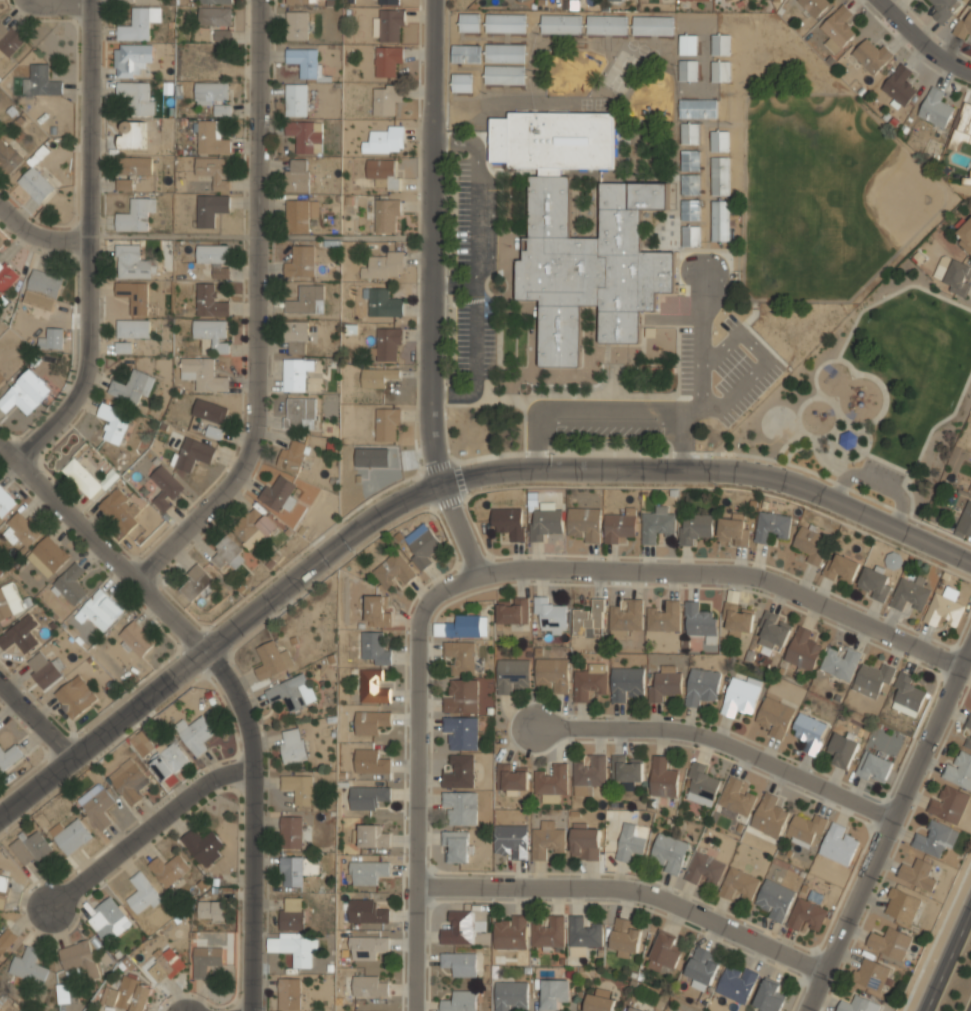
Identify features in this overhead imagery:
building: (126, 0)
building: (684, 0)
building: (728, 0)
building: (301, 1)
building: (215, 2)
building: (391, 2)
building: (517, 2)
building: (813, 6)
building: (945, 8)
building: (215, 16)
building: (470, 21)
building: (505, 22)
building: (561, 23)
building: (965, 23)
building: (607, 24)
building: (139, 25)
building: (297, 25)
building: (390, 25)
building: (653, 25)
building: (838, 29)
building: (223, 35)
building: (8, 39)
road: (921, 40)
building: (687, 43)
building: (720, 43)
building: (505, 52)
building: (466, 53)
building: (871, 55)
building: (387, 59)
building: (131, 60)
building: (303, 61)
building: (688, 69)
building: (720, 70)
building: (505, 74)
building: (43, 80)
building: (462, 82)
building: (900, 85)
building: (211, 92)
building: (136, 96)
building: (386, 98)
building: (297, 99)
building: (935, 107)
building: (698, 108)
building: (962, 126)
building: (689, 132)
building: (303, 135)
building: (210, 138)
building: (385, 139)
building: (719, 140)
building: (8, 156)
building: (689, 159)
building: (135, 166)
building: (214, 172)
building: (384, 172)
building: (297, 175)
building: (720, 175)
building: (968, 176)
building: (690, 183)
building: (36, 184)
building: (124, 185)
building: (211, 209)
building: (690, 209)
building: (300, 213)
building: (387, 215)
building: (135, 216)
building: (721, 220)
road: (40, 225)
building: (691, 235)
building: (964, 235)
road: (172, 236)
road: (91, 238)
building: (581, 244)
building: (214, 258)
building: (301, 261)
building: (132, 263)
building: (384, 265)
building: (956, 275)
building: (6, 276)
building: (43, 289)
road: (432, 290)
building: (134, 295)
building: (210, 300)
building: (307, 300)
building: (382, 303)
road: (253, 305)
building: (133, 328)
building: (212, 333)
building: (296, 337)
building: (52, 338)
building: (388, 344)
building: (123, 346)
building: (203, 374)
building: (301, 375)
building: (378, 376)
building: (2, 379)
building: (132, 385)
building: (26, 392)
building: (210, 411)
building: (300, 412)
building: (113, 422)
building: (387, 424)
building: (215, 432)
building: (849, 439)
building: (192, 454)
building: (292, 455)
building: (82, 478)
road: (438, 478)
building: (165, 487)
building: (969, 489)
building: (277, 493)
building: (6, 503)
building: (121, 510)
building: (965, 520)
building: (508, 523)
building: (544, 523)
building: (584, 523)
building: (254, 524)
building: (620, 525)
building: (657, 526)
building: (771, 527)
building: (694, 528)
building: (24, 529)
building: (735, 529)
building: (421, 544)
building: (811, 545)
building: (227, 552)
building: (50, 554)
building: (842, 569)
building: (393, 570)
road: (729, 574)
building: (195, 582)
building: (875, 583)
building: (70, 584)
building: (909, 595)
building: (9, 601)
building: (944, 608)
building: (99, 609)
building: (377, 611)
building: (512, 613)
building: (550, 615)
building: (664, 617)
building: (626, 618)
building: (737, 618)
building: (589, 619)
building: (700, 622)
building: (463, 627)
building: (439, 629)
building: (774, 630)
building: (20, 635)
building: (136, 638)
building: (374, 648)
building: (803, 649)
building: (462, 658)
building: (272, 659)
building: (841, 662)
building: (43, 669)
building: (552, 674)
road: (227, 676)
building: (513, 677)
building: (873, 679)
building: (664, 682)
building: (588, 684)
building: (627, 684)
building: (702, 685)
building: (373, 688)
building: (292, 692)
building: (740, 694)
building: (907, 694)
building: (75, 695)
building: (461, 697)
building: (775, 715)
road: (36, 716)
building: (371, 722)
building: (969, 724)
building: (808, 732)
building: (461, 734)
building: (195, 735)
building: (884, 741)
building: (142, 743)
road: (724, 743)
building: (969, 743)
building: (293, 744)
building: (843, 747)
building: (8, 756)
building: (370, 761)
building: (169, 762)
building: (874, 765)
building: (960, 769)
building: (628, 770)
building: (460, 773)
building: (590, 773)
road: (418, 776)
building: (663, 776)
building: (511, 780)
building: (128, 782)
building: (551, 782)
building: (700, 784)
building: (300, 789)
building: (368, 796)
building: (736, 796)
building: (949, 803)
building: (98, 806)
building: (461, 809)
building: (769, 815)
road: (149, 826)
building: (806, 827)
road: (887, 828)
building: (291, 832)
building: (70, 836)
building: (372, 836)
building: (935, 838)
building: (510, 842)
building: (547, 842)
building: (631, 842)
building: (585, 844)
building: (838, 844)
building: (202, 845)
building: (456, 846)
building: (31, 848)
building: (668, 853)
building: (704, 868)
building: (170, 869)
building: (296, 870)
building: (367, 871)
building: (1, 872)
building: (917, 873)
building: (739, 884)
road: (629, 887)
building: (4, 894)
building: (142, 894)
building: (774, 900)
building: (902, 904)
building: (211, 910)
building: (366, 910)
building: (291, 914)
building: (806, 914)
building: (108, 921)
building: (459, 928)
building: (548, 933)
building: (583, 933)
building: (510, 934)
road: (936, 934)
building: (626, 937)
building: (7, 941)
building: (889, 941)
building: (367, 946)
building: (295, 947)
building: (665, 951)
road: (947, 959)
building: (79, 960)
building: (206, 960)
building: (165, 964)
building: (460, 965)
building: (702, 966)
building: (28, 967)
building: (871, 973)
building: (737, 983)
building: (370, 985)
road: (195, 993)
building: (129, 994)
building: (289, 994)
building: (553, 994)
building: (63, 995)
building: (769, 996)
building: (511, 997)
building: (460, 1001)
building: (599, 1002)
building: (858, 1004)
building: (633, 1009)

